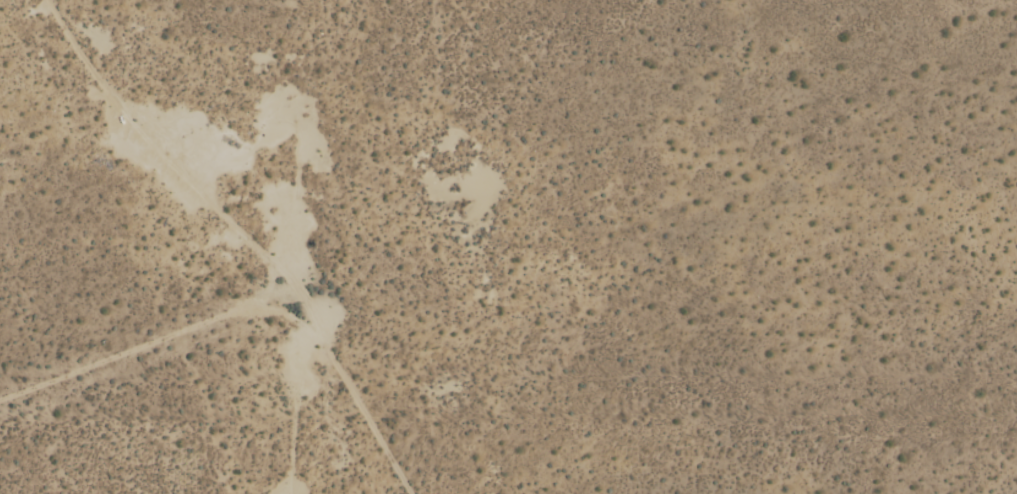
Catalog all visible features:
road: (184, 158)
road: (370, 400)

